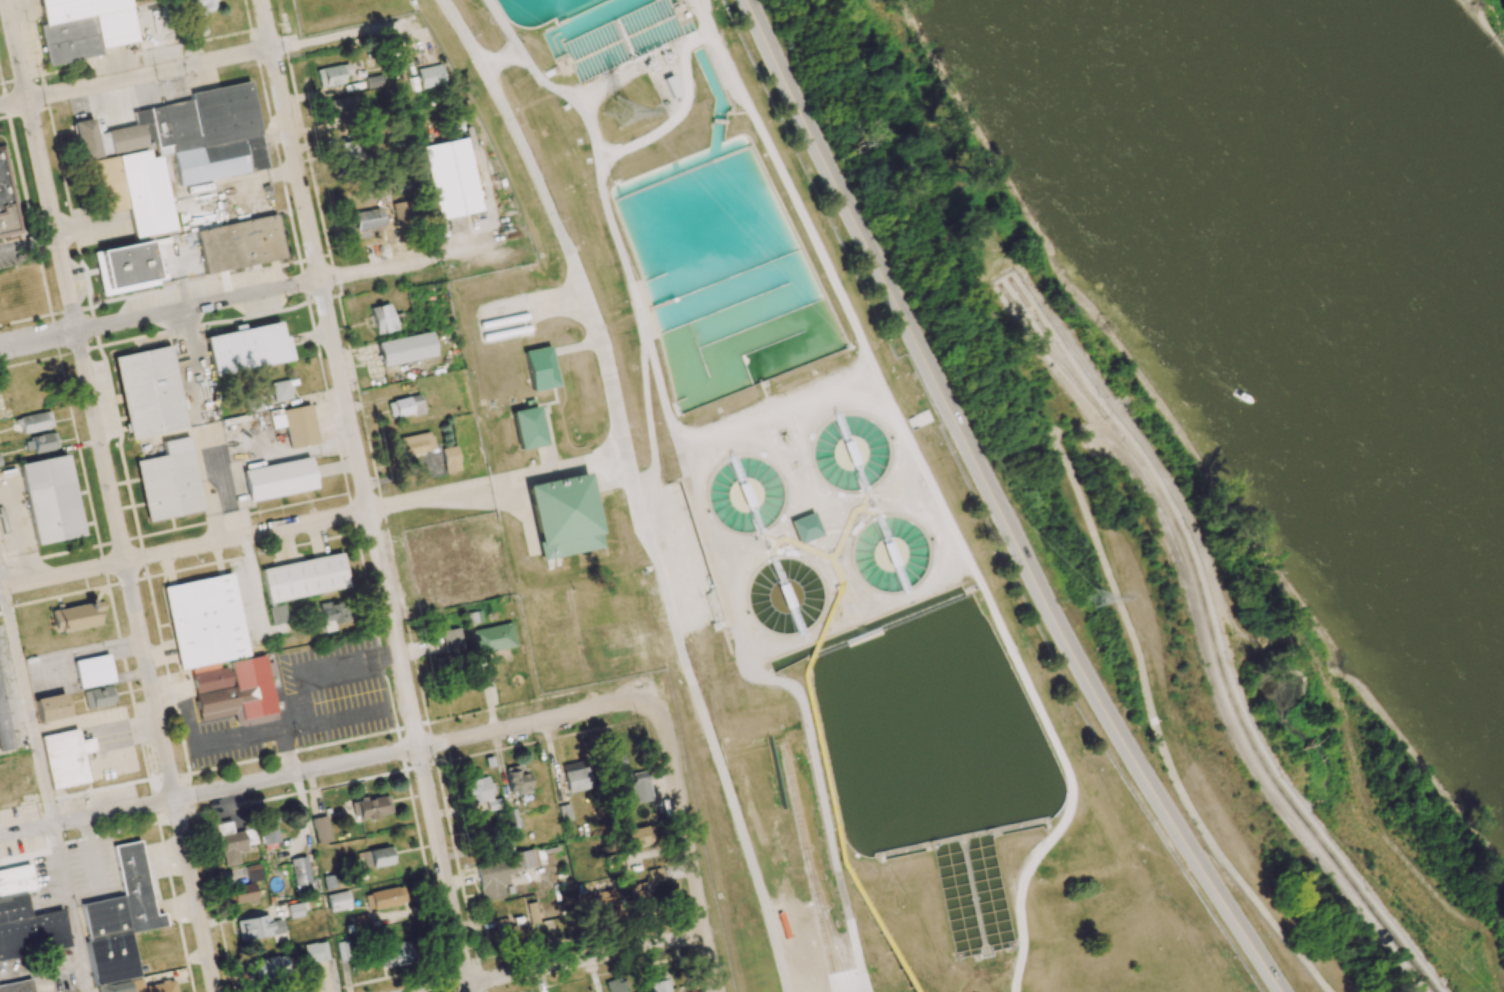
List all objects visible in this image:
building: (201, 4)
building: (77, 8)
road: (196, 63)
building: (331, 75)
building: (430, 76)
building: (373, 81)
building: (340, 106)
building: (224, 113)
power tower: (615, 113)
road: (613, 146)
building: (348, 150)
building: (452, 178)
building: (135, 191)
building: (6, 201)
building: (401, 213)
building: (365, 219)
building: (239, 244)
river: (1337, 265)
building: (128, 266)
road: (268, 291)
building: (382, 318)
railway: (1048, 338)
building: (244, 349)
building: (405, 349)
building: (540, 368)
building: (280, 390)
building: (151, 391)
building: (407, 406)
building: (35, 422)
building: (301, 423)
building: (527, 428)
building: (43, 442)
building: (415, 444)
building: (449, 459)
building: (0, 465)
building: (279, 477)
building: (169, 481)
road: (364, 495)
road: (111, 496)
road: (1079, 497)
building: (49, 498)
road: (997, 505)
building: (563, 516)
road: (243, 537)
parking lot: (694, 556)
building: (302, 577)
road: (1, 580)
power tower: (1094, 597)
building: (277, 614)
building: (333, 614)
building: (78, 616)
building: (204, 621)
building: (614, 631)
building: (492, 638)
railway: (1212, 639)
building: (452, 641)
building: (619, 657)
building: (93, 671)
building: (234, 690)
building: (98, 697)
road: (27, 707)
building: (50, 707)
building: (354, 707)
building: (3, 729)
road: (275, 729)
road: (288, 751)
building: (65, 757)
road: (325, 767)
building: (517, 780)
building: (576, 780)
building: (640, 786)
building: (480, 793)
building: (372, 807)
building: (512, 817)
building: (267, 829)
building: (320, 829)
building: (484, 835)
building: (638, 836)
building: (232, 842)
road: (688, 849)
building: (379, 857)
building: (501, 873)
building: (301, 874)
building: (655, 875)
building: (23, 878)
building: (10, 881)
building: (2, 886)
building: (244, 887)
building: (641, 894)
building: (387, 897)
building: (338, 901)
building: (607, 901)
building: (13, 907)
road: (69, 909)
building: (294, 910)
building: (532, 913)
building: (119, 919)
building: (31, 923)
building: (358, 924)
railway: (830, 925)
railway: (822, 926)
building: (258, 927)
building: (510, 933)
building: (33, 942)
building: (344, 950)
building: (315, 952)
building: (398, 955)
railway: (844, 957)
road: (569, 964)
building: (268, 969)
building: (659, 983)
building: (615, 985)
building: (17, 986)
building: (138, 987)

